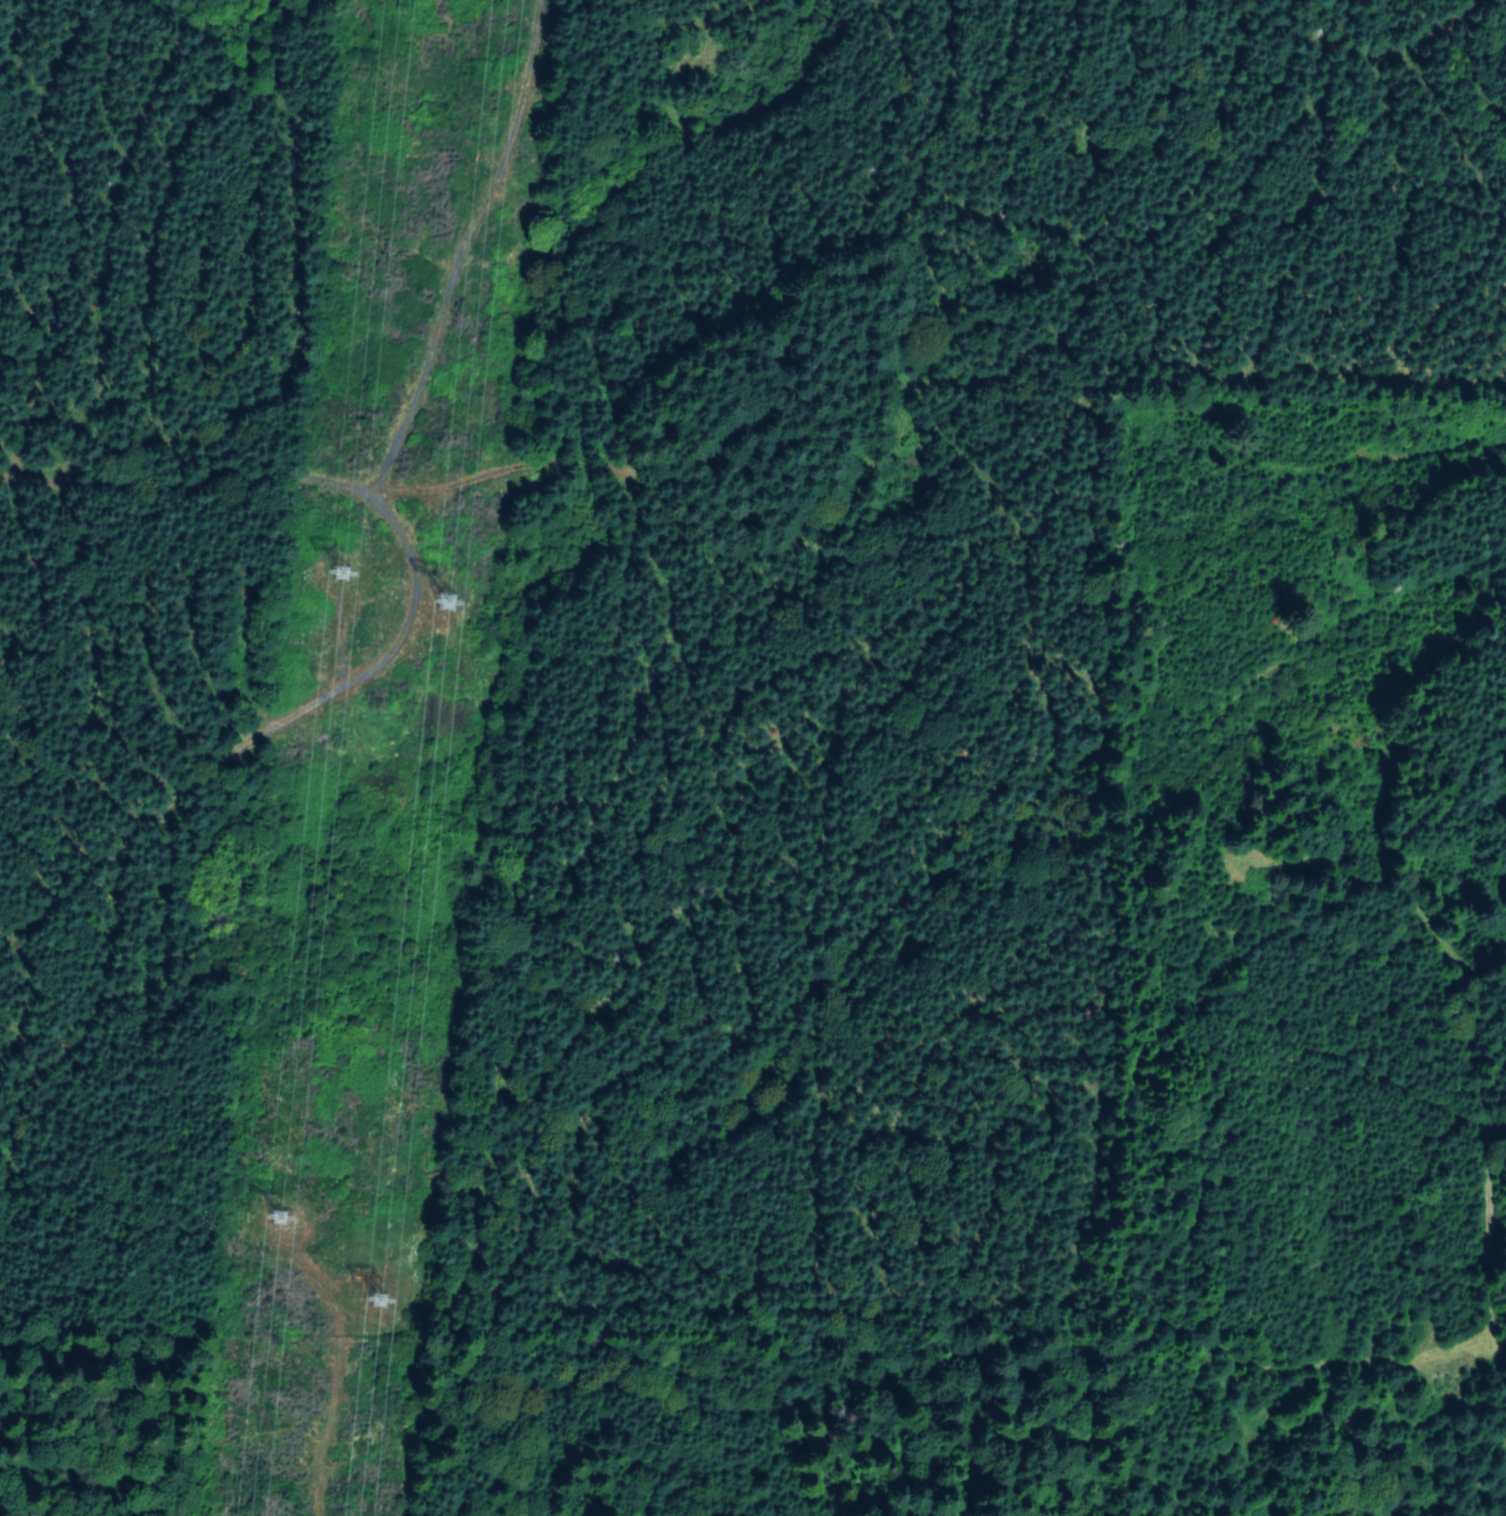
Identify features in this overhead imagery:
power tower: (336, 577)
power tower: (441, 607)
power tower: (276, 1226)
power tower: (376, 1298)

